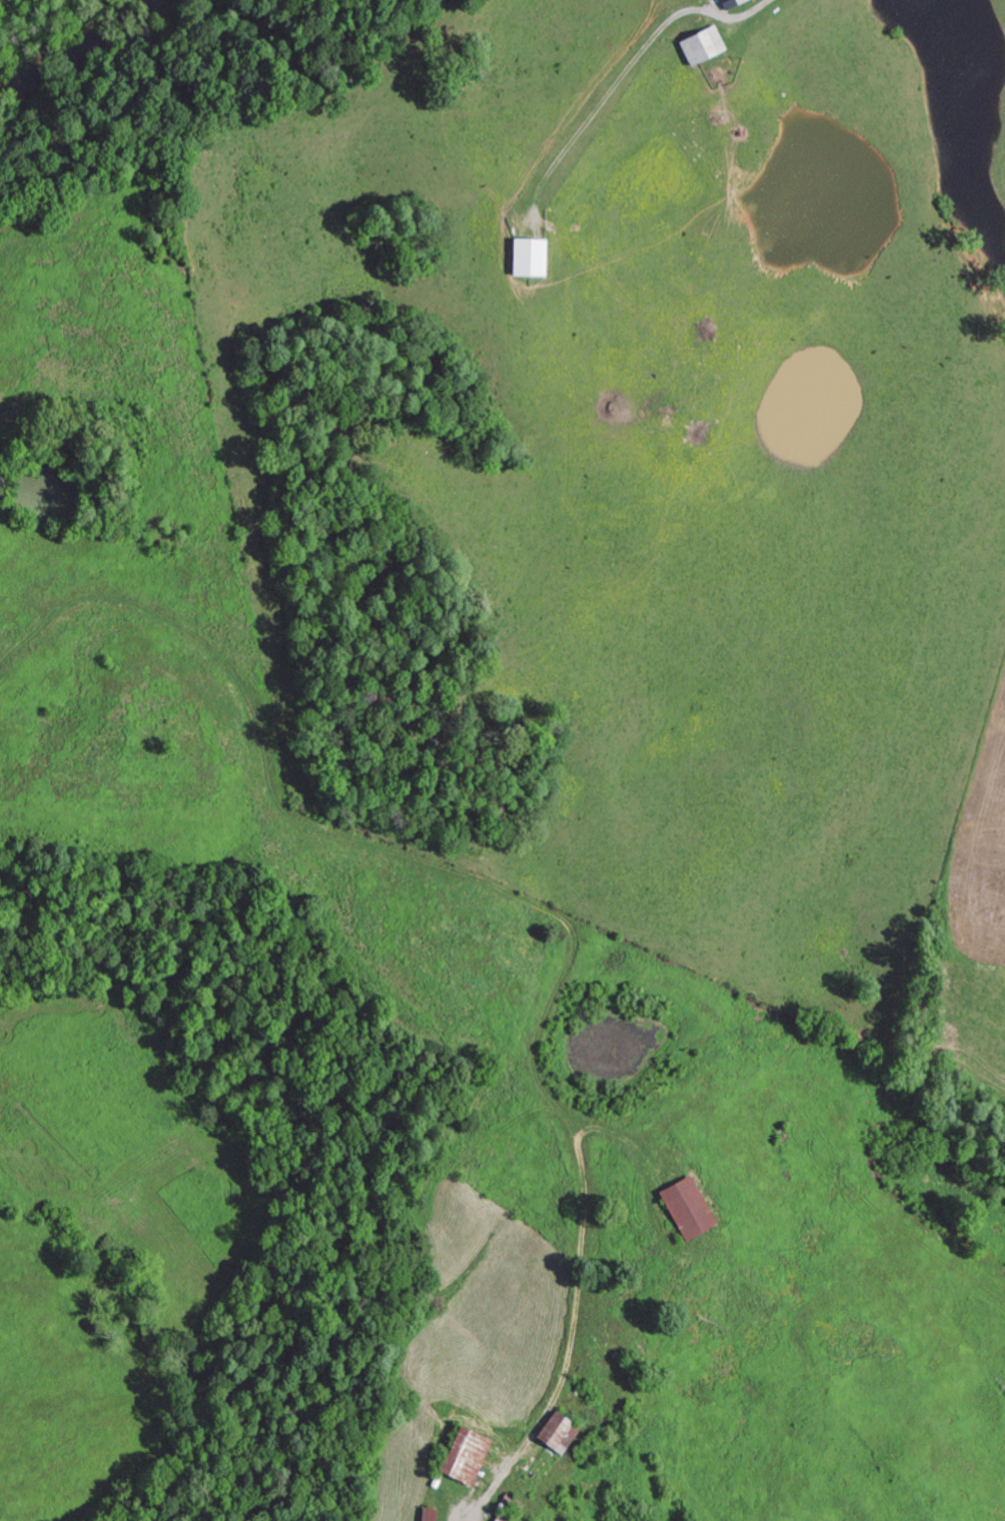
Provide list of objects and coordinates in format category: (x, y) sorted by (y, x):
building: (730, 2)
building: (702, 44)
building: (529, 256)
building: (687, 1206)
building: (554, 1428)
building: (464, 1454)
building: (428, 1513)
building: (503, 1517)

